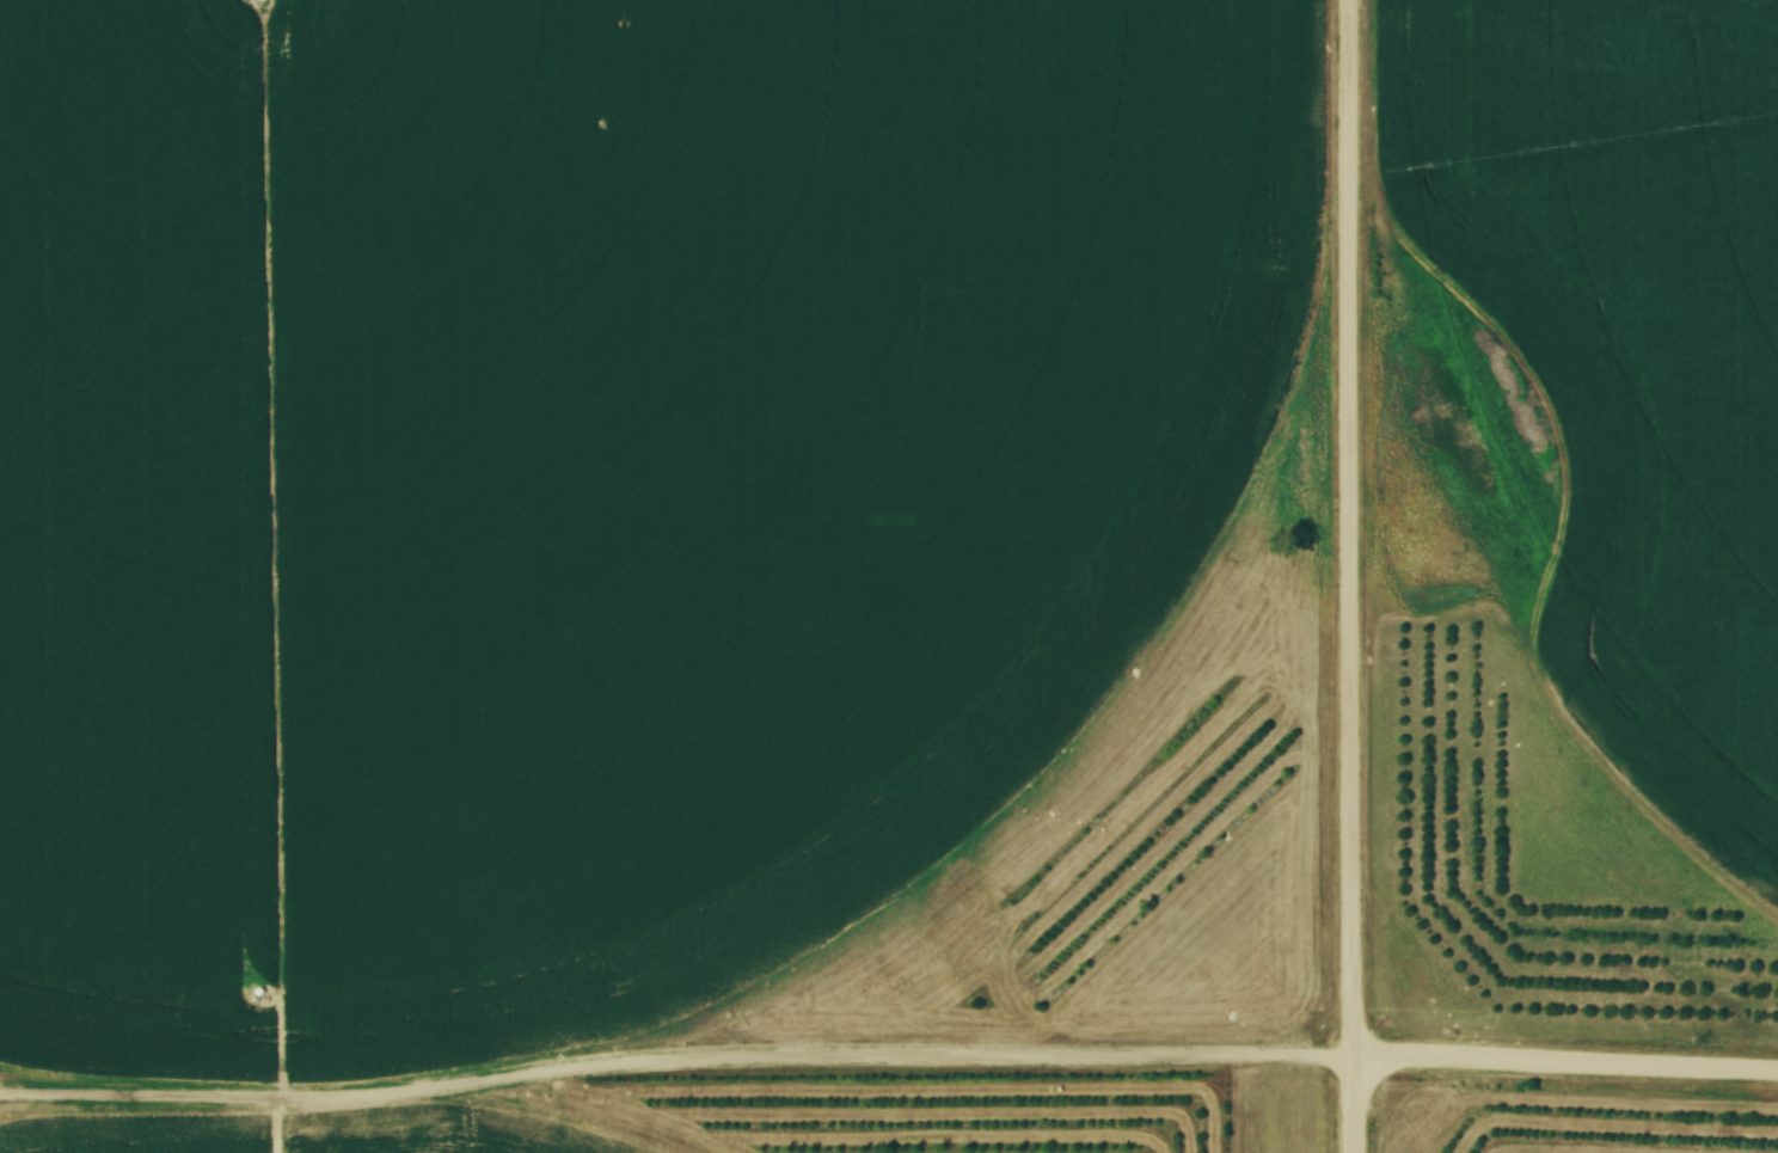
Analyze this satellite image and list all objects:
road: (1348, 529)
road: (889, 1066)
road: (1351, 1106)
airport runway: (1286, 1122)

